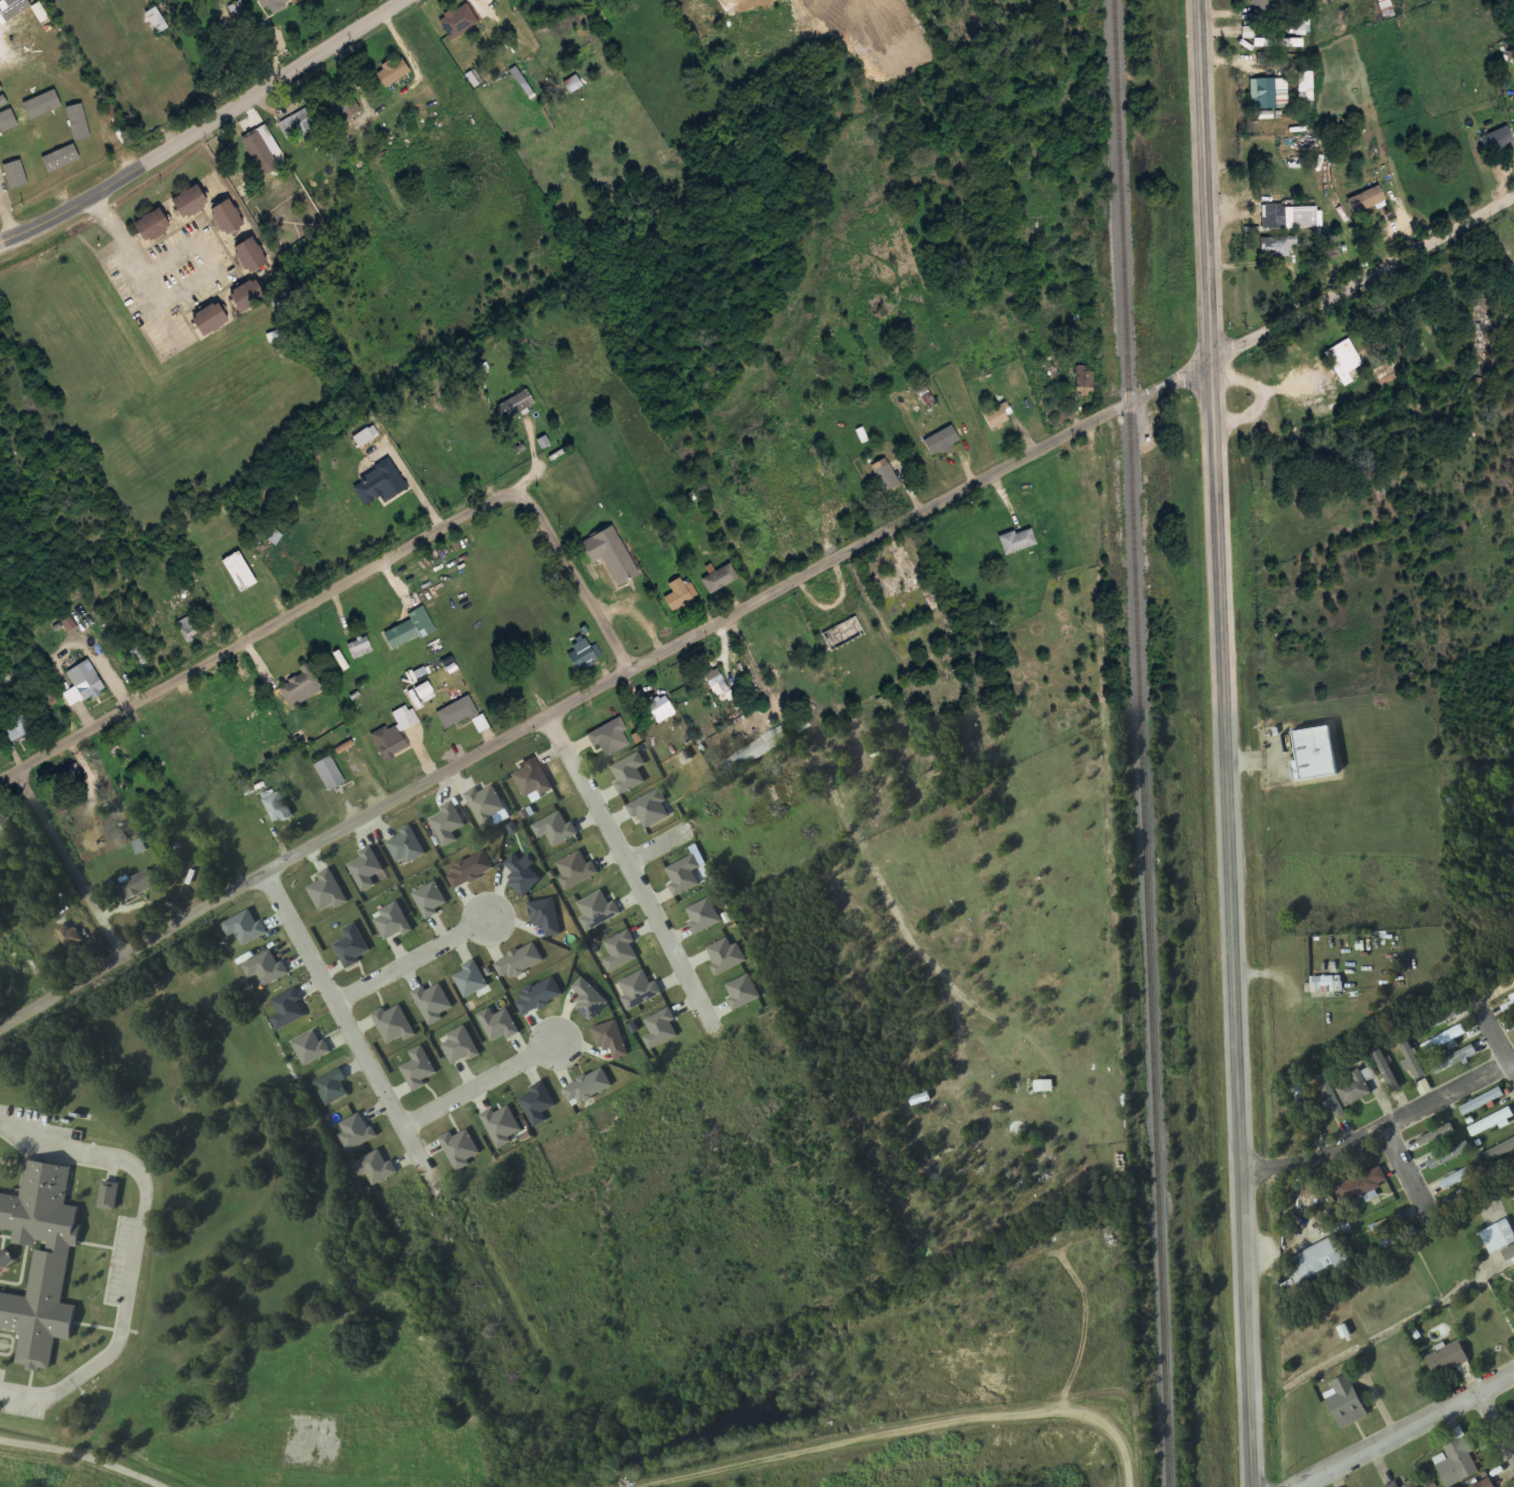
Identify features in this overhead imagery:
building: (275, 4)
building: (1262, 7)
building: (156, 20)
building: (1279, 43)
building: (1264, 59)
building: (392, 72)
building: (32, 84)
building: (5, 90)
building: (1263, 93)
building: (41, 104)
building: (346, 105)
building: (76, 123)
road: (201, 125)
building: (300, 127)
building: (1498, 139)
building: (255, 146)
building: (58, 161)
building: (21, 174)
building: (1366, 199)
building: (190, 201)
building: (1274, 215)
building: (227, 216)
building: (152, 225)
building: (1278, 246)
building: (250, 255)
building: (247, 295)
building: (210, 319)
building: (1344, 361)
building: (1085, 381)
building: (516, 404)
building: (998, 416)
building: (365, 436)
building: (941, 441)
building: (886, 476)
building: (379, 484)
building: (1378, 506)
building: (1018, 541)
building: (612, 555)
building: (720, 579)
road: (588, 596)
building: (678, 596)
road: (753, 603)
road: (275, 620)
building: (189, 627)
building: (410, 629)
building: (843, 633)
building: (360, 649)
building: (584, 653)
building: (139, 656)
building: (714, 677)
building: (86, 682)
building: (299, 684)
building: (753, 689)
building: (689, 694)
building: (661, 710)
building: (457, 712)
building: (480, 724)
building: (17, 728)
building: (394, 734)
railway: (1141, 743)
road: (1225, 743)
building: (751, 754)
building: (1314, 756)
building: (329, 773)
building: (67, 778)
building: (277, 808)
building: (5, 833)
road: (69, 862)
road: (622, 875)
building: (138, 887)
building: (71, 947)
road: (410, 963)
building: (21, 969)
building: (1326, 986)
building: (1439, 1020)
road: (344, 1022)
building: (1444, 1041)
building: (1411, 1058)
building: (1454, 1061)
building: (1388, 1077)
road: (477, 1085)
building: (1043, 1086)
building: (1355, 1090)
building: (1330, 1096)
building: (1482, 1102)
building: (1491, 1124)
building: (1435, 1136)
building: (1500, 1151)
building: (1446, 1157)
building: (1510, 1168)
building: (1461, 1176)
building: (1364, 1186)
building: (109, 1197)
building: (1511, 1197)
building: (1489, 1209)
building: (1498, 1237)
building: (1510, 1255)
building: (37, 1263)
building: (1318, 1269)
building: (1512, 1310)
building: (1448, 1359)
building: (1346, 1402)
road: (1501, 1415)
road: (1403, 1429)
building: (1458, 1464)
building: (1486, 1484)
building: (1393, 1485)
building: (1412, 1485)

